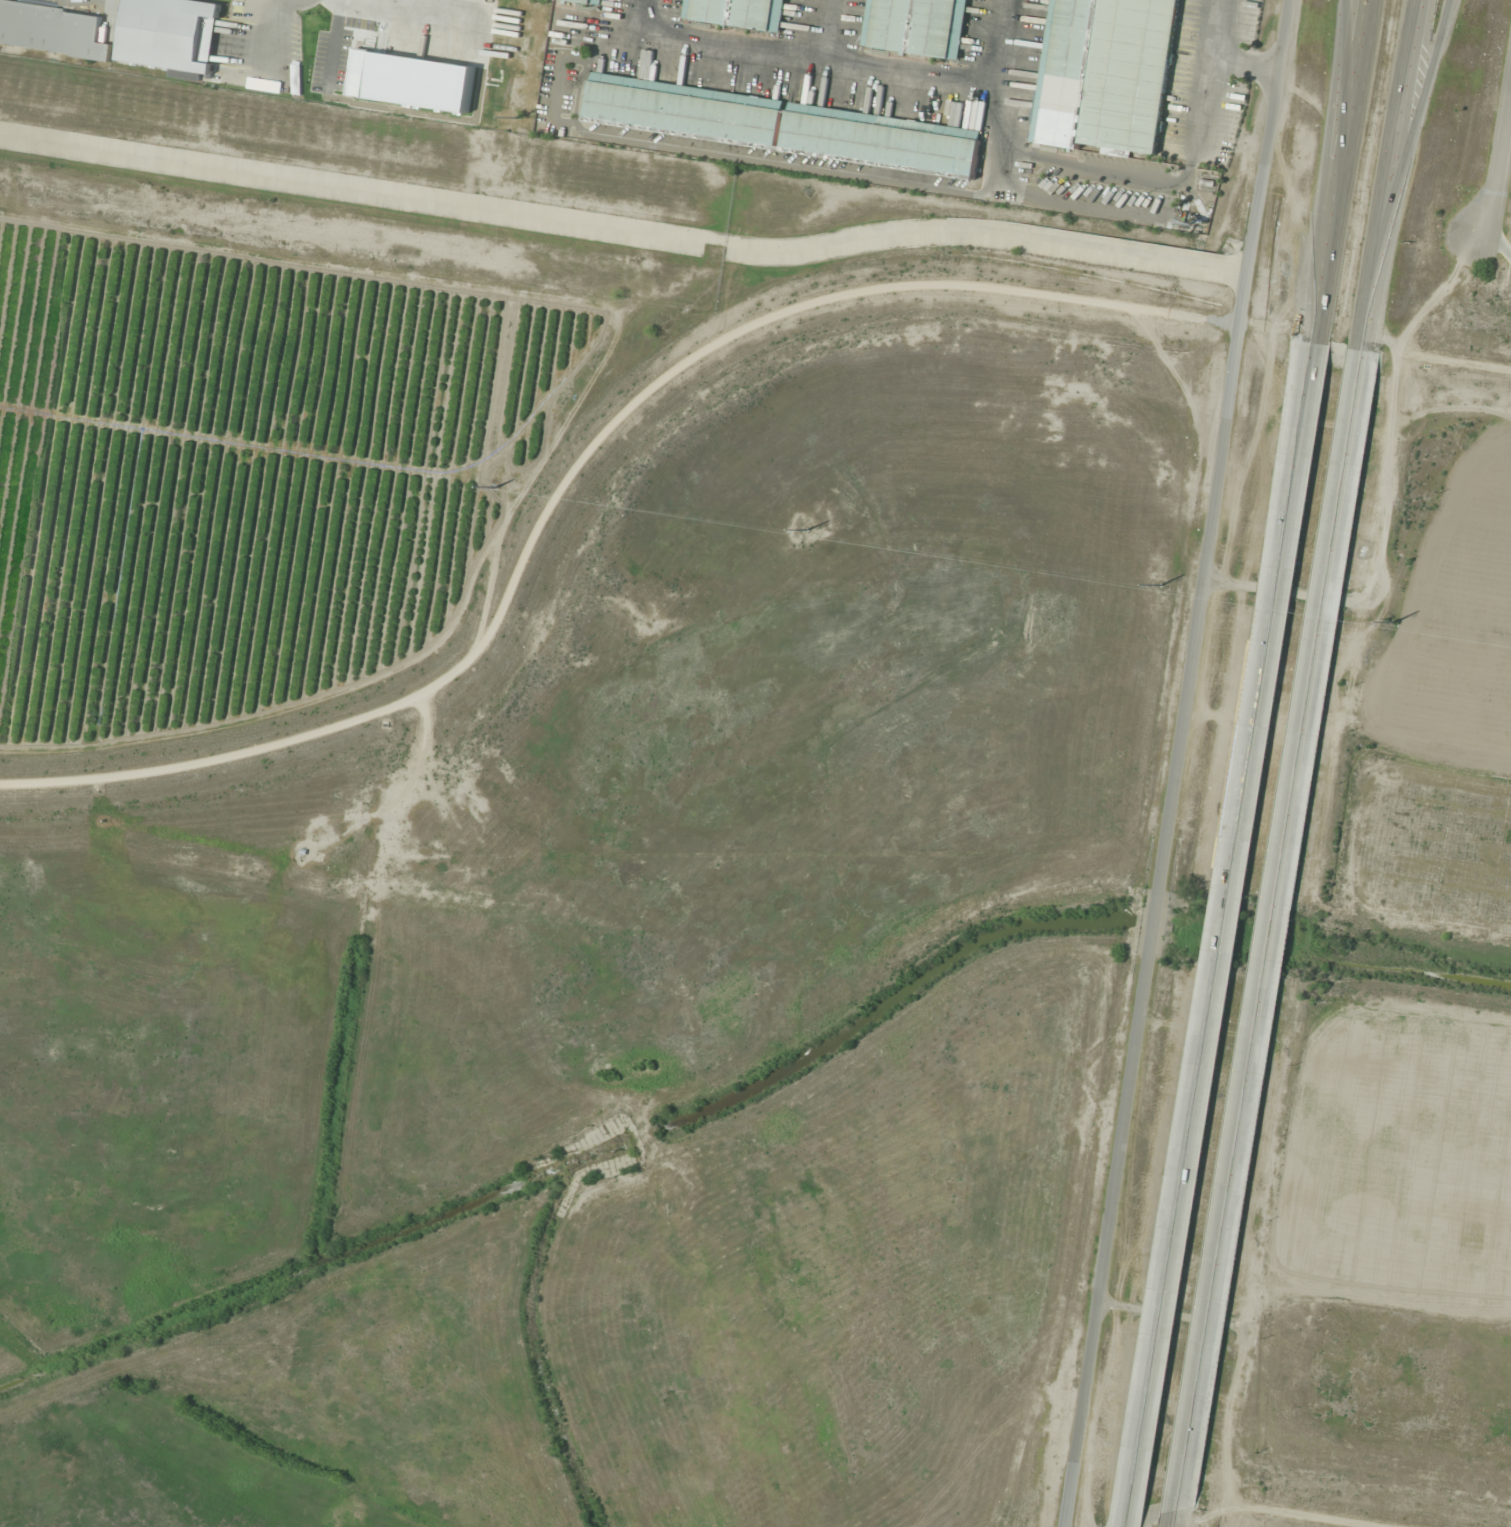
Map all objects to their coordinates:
building: (588, 1)
building: (739, 13)
building: (918, 26)
building: (52, 31)
road: (818, 33)
building: (170, 34)
road: (847, 72)
building: (1106, 73)
building: (784, 126)
road: (1338, 141)
road: (1415, 147)
road: (1342, 170)
road: (1498, 171)
road: (1397, 174)
road: (623, 233)
road: (1496, 237)
road: (581, 465)
road: (1176, 763)
road: (1281, 928)
road: (1221, 932)
road: (1184, 1516)
road: (1123, 1525)

